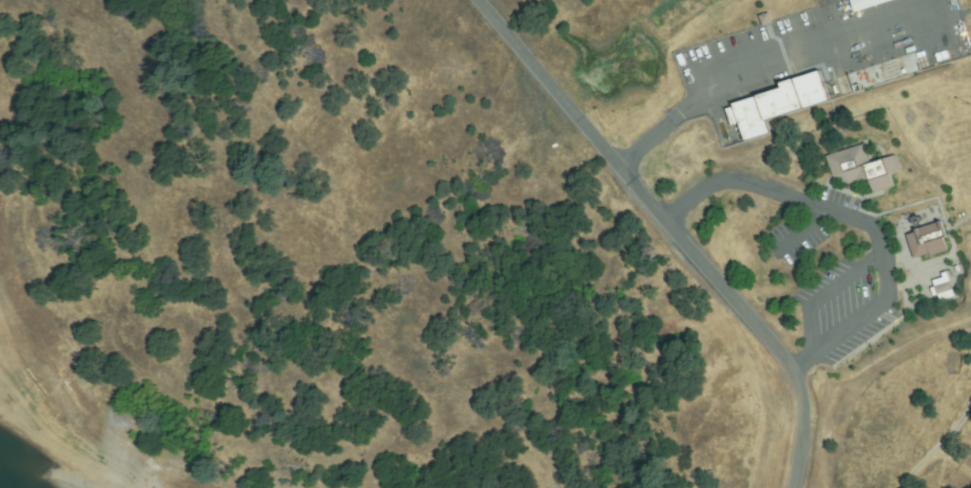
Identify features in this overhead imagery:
building: (865, 3)
building: (884, 73)
building: (775, 104)
building: (863, 168)
road: (869, 224)
road: (682, 229)
building: (928, 241)
building: (942, 289)
road: (941, 447)

